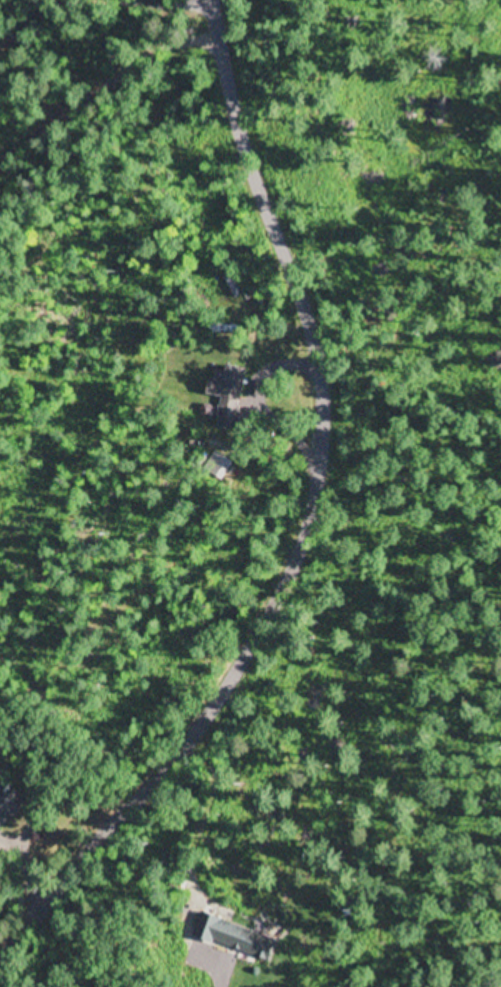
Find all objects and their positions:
road: (107, 84)
building: (228, 389)
road: (311, 528)
building: (9, 803)
building: (206, 928)
road: (214, 959)

